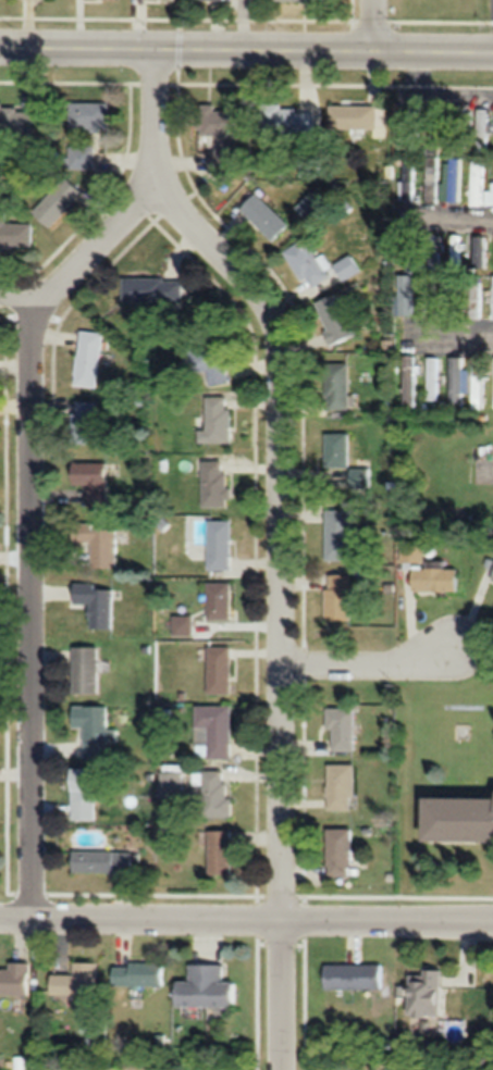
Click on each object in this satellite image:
building: (304, 0)
road: (243, 24)
road: (371, 24)
road: (246, 49)
road: (432, 96)
building: (90, 116)
building: (17, 117)
building: (359, 119)
building: (292, 124)
building: (414, 130)
building: (481, 130)
building: (221, 134)
building: (455, 139)
building: (435, 142)
building: (82, 159)
building: (479, 177)
building: (432, 179)
building: (453, 181)
building: (407, 182)
building: (59, 203)
building: (264, 219)
road: (451, 222)
building: (16, 235)
building: (456, 251)
building: (479, 251)
building: (432, 262)
building: (308, 265)
building: (347, 269)
building: (153, 290)
road: (29, 293)
building: (336, 320)
road: (449, 339)
building: (89, 359)
building: (212, 368)
building: (479, 377)
building: (432, 378)
building: (455, 381)
building: (409, 382)
building: (337, 387)
building: (86, 421)
building: (218, 421)
building: (337, 450)
building: (93, 481)
building: (214, 483)
road: (29, 525)
building: (338, 535)
road: (279, 538)
building: (220, 544)
building: (102, 546)
building: (434, 580)
building: (492, 580)
building: (338, 598)
building: (220, 599)
building: (97, 602)
building: (183, 624)
road: (472, 637)
road: (368, 665)
building: (87, 669)
park: (1, 670)
building: (220, 670)
building: (95, 730)
building: (342, 731)
building: (214, 732)
building: (171, 784)
building: (341, 787)
building: (85, 794)
building: (218, 795)
building: (459, 820)
building: (340, 851)
building: (221, 853)
building: (103, 861)
road: (246, 917)
building: (139, 975)
building: (352, 976)
building: (15, 980)
building: (78, 981)
building: (207, 987)
building: (426, 995)
crop: (433, 1065)
crop: (88, 1068)

